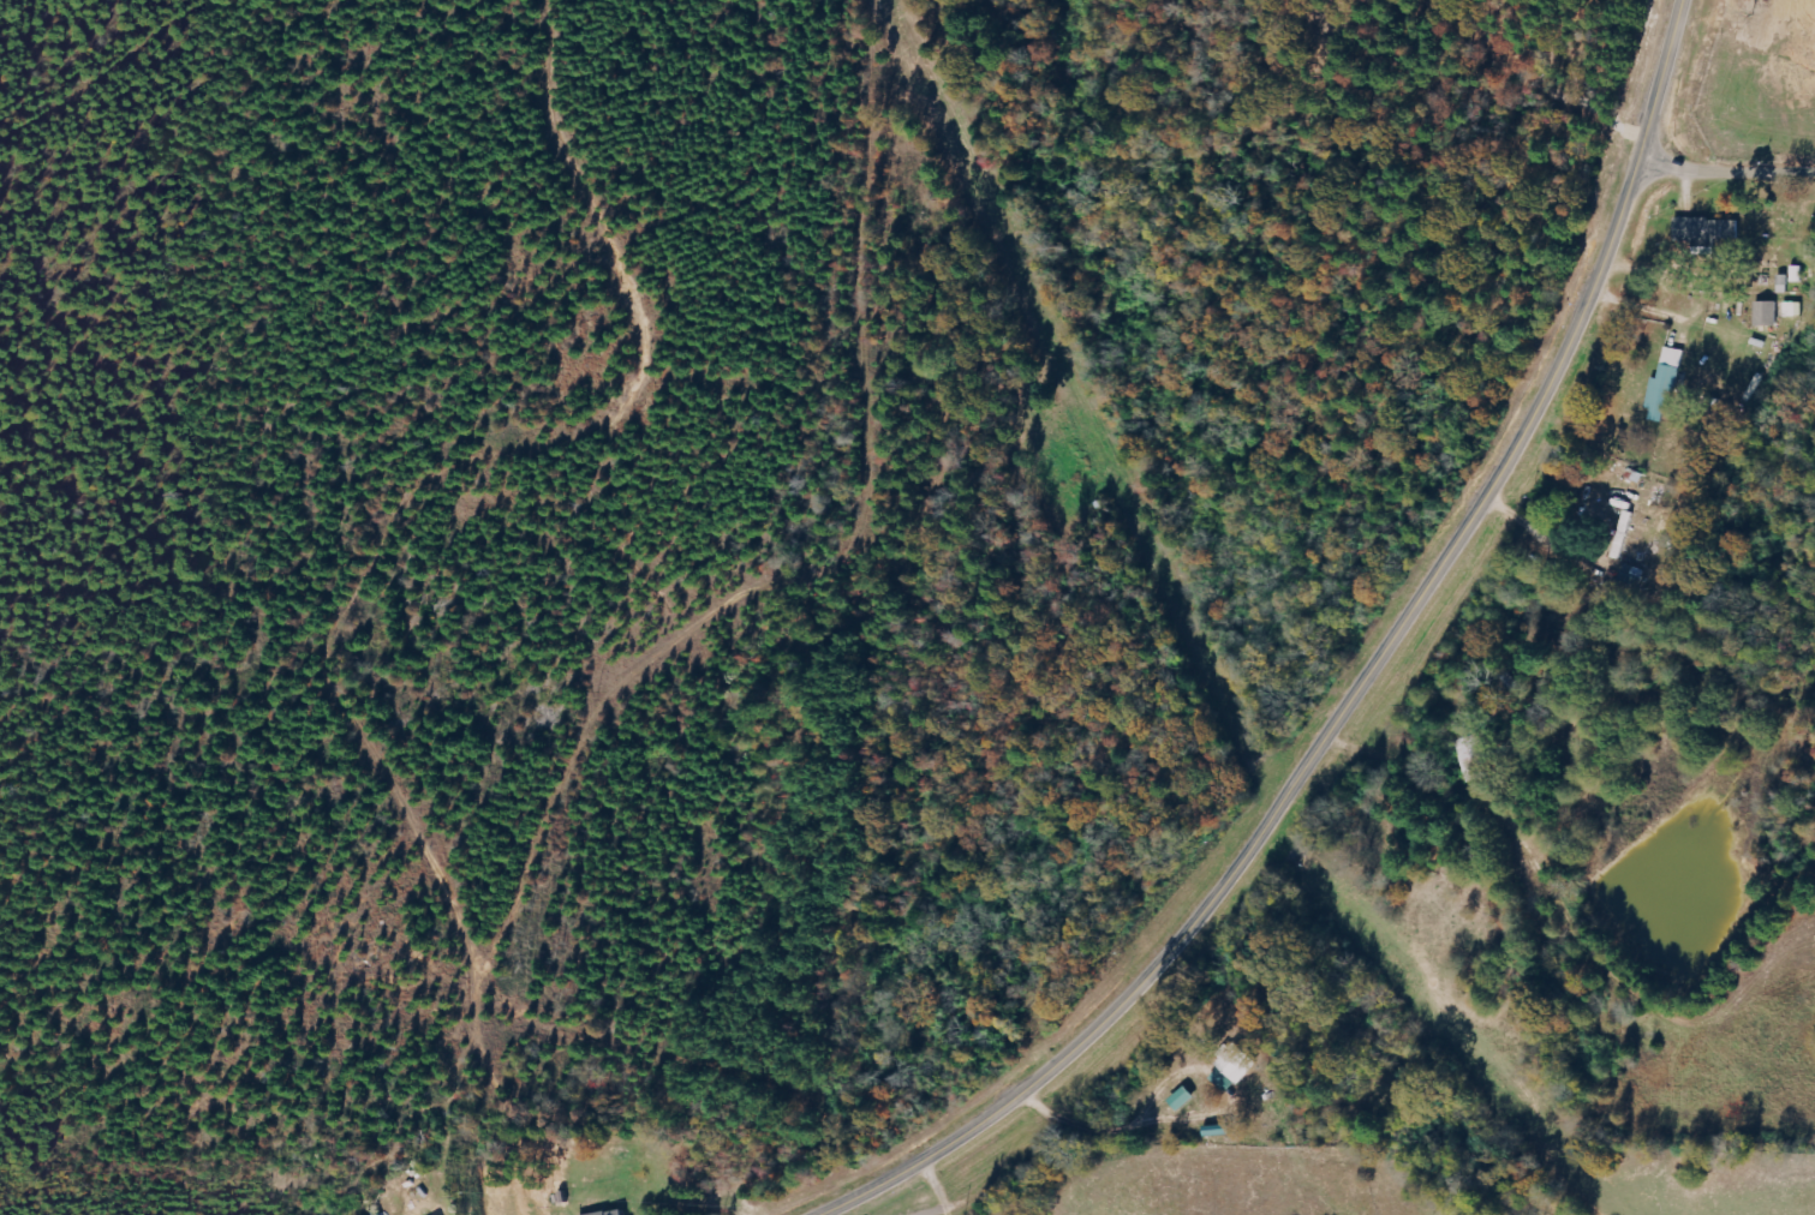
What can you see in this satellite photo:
road: (1726, 174)
building: (1708, 231)
building: (1795, 310)
building: (1767, 313)
road: (693, 618)
road: (1361, 684)
building: (1482, 758)
building: (1236, 1067)
building: (615, 1213)

